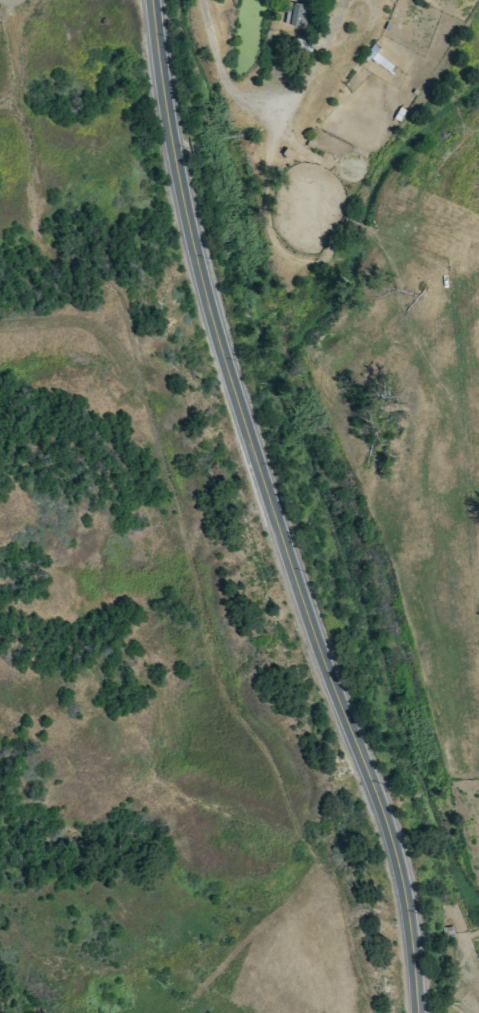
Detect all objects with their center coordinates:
building: (298, 13)
road: (336, 18)
road: (358, 28)
building: (304, 44)
road: (245, 97)
road: (274, 510)

